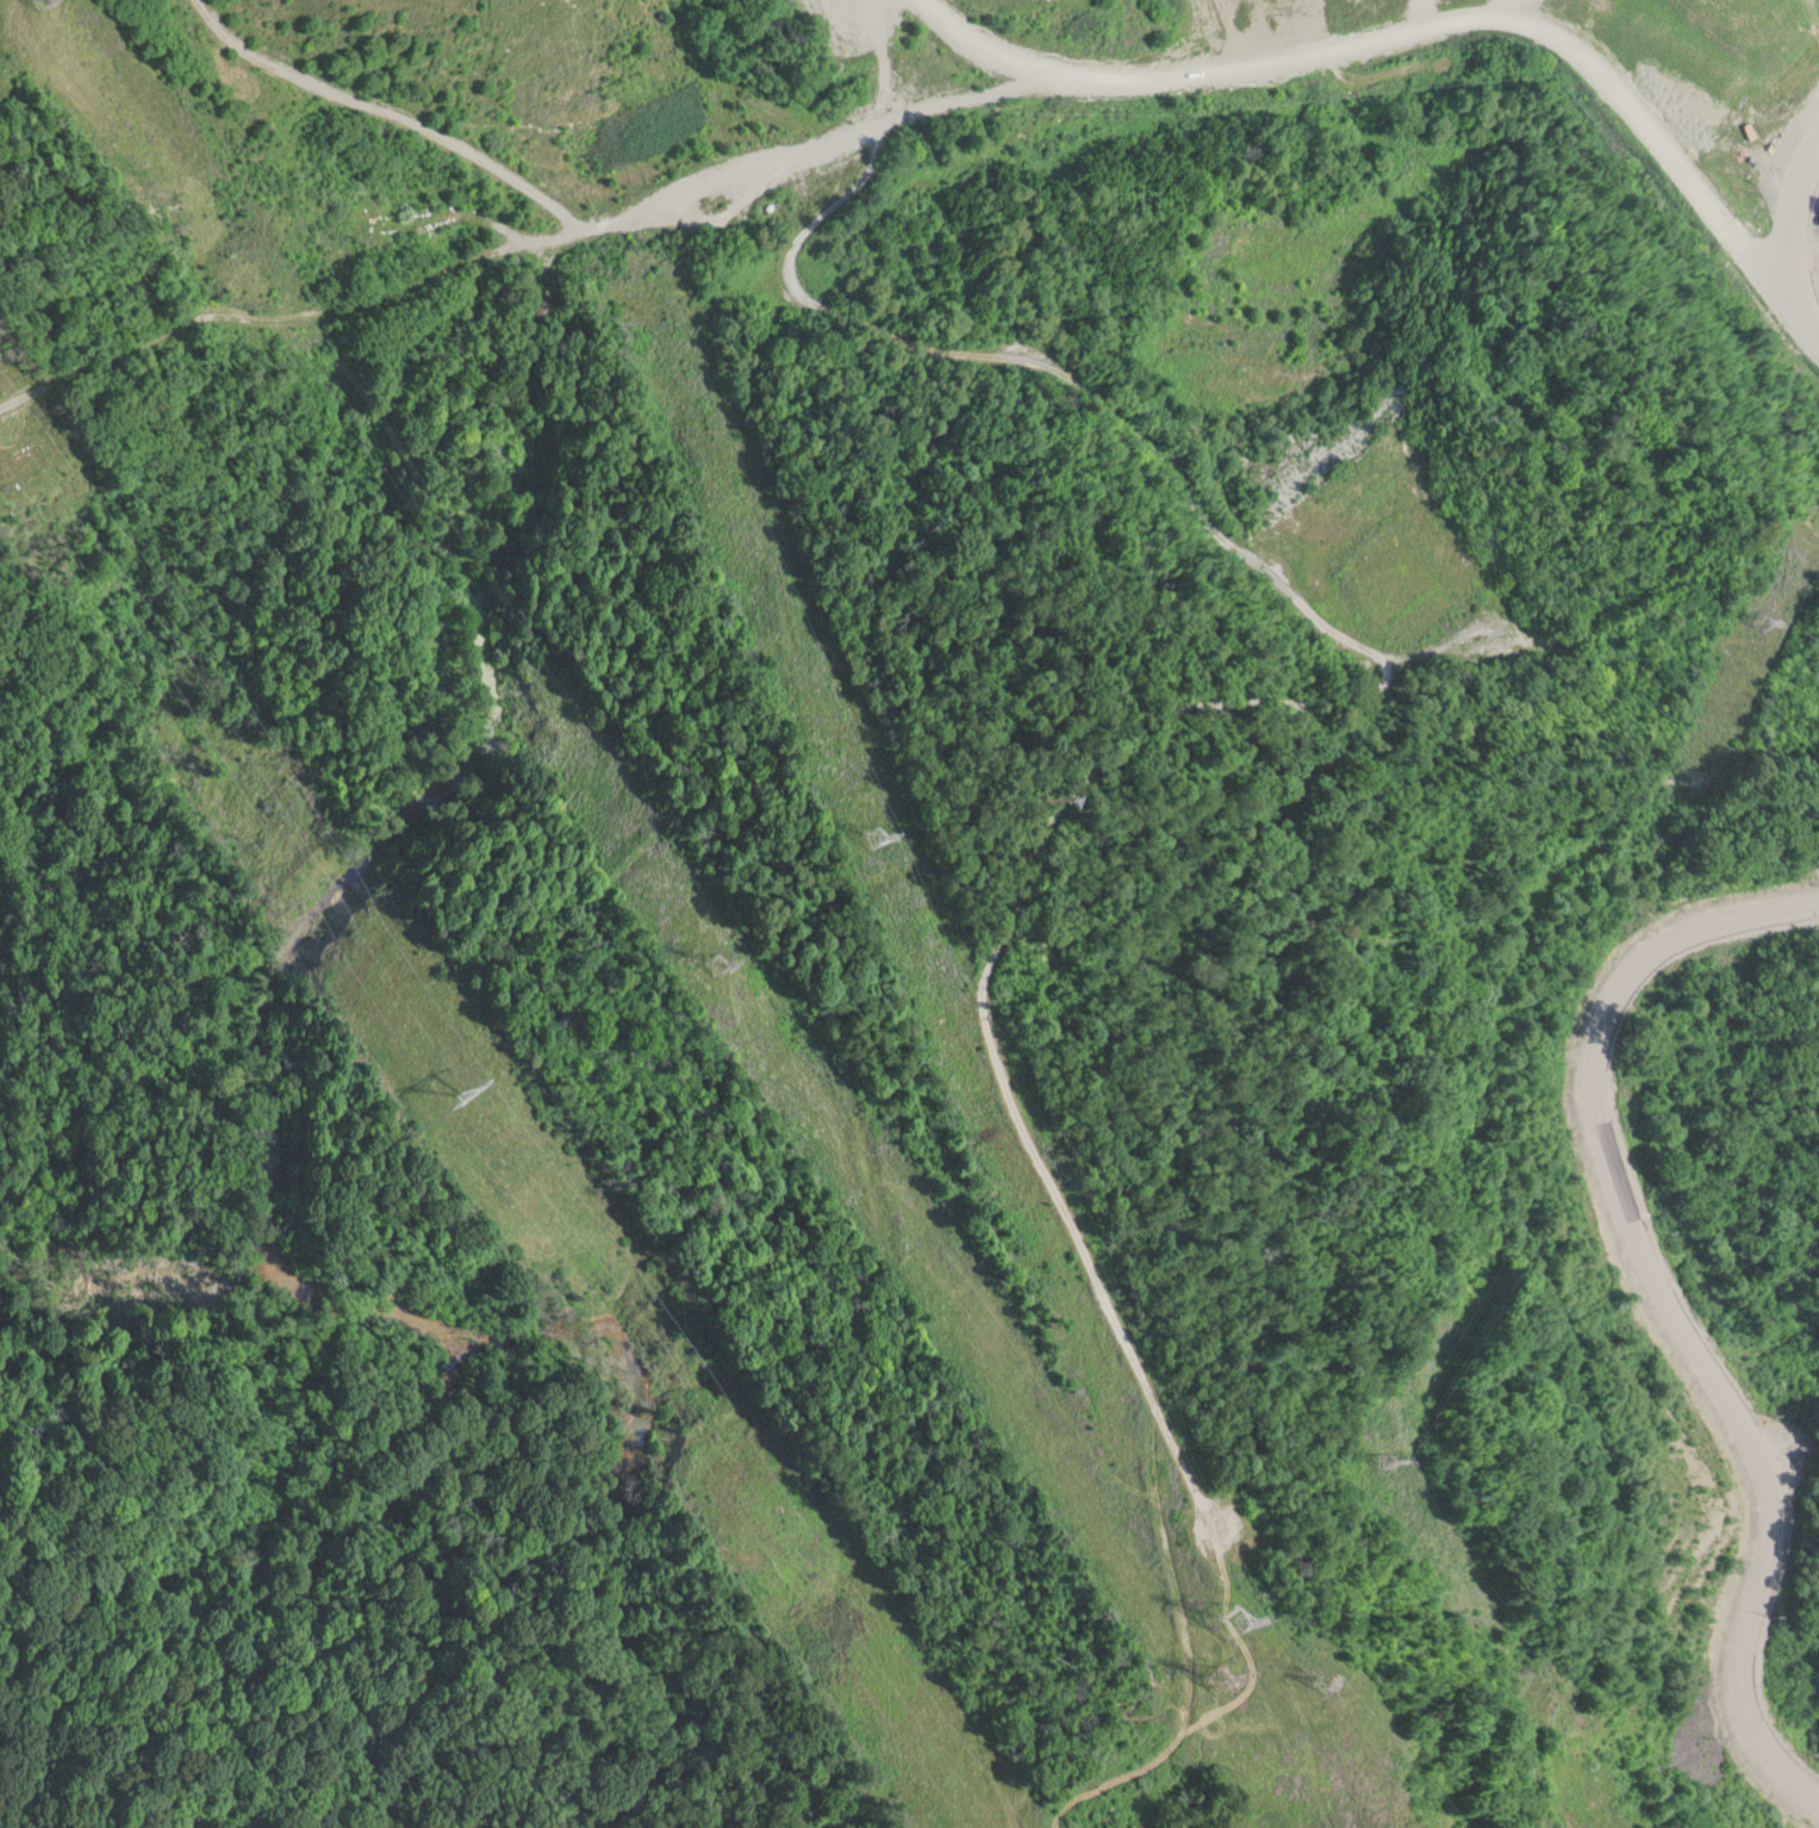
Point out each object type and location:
building: (1265, 7)
building: (842, 35)
power tower: (1752, 620)
power tower: (717, 950)
power tower: (460, 1075)
power tower: (1385, 1459)
power tower: (1213, 1674)

